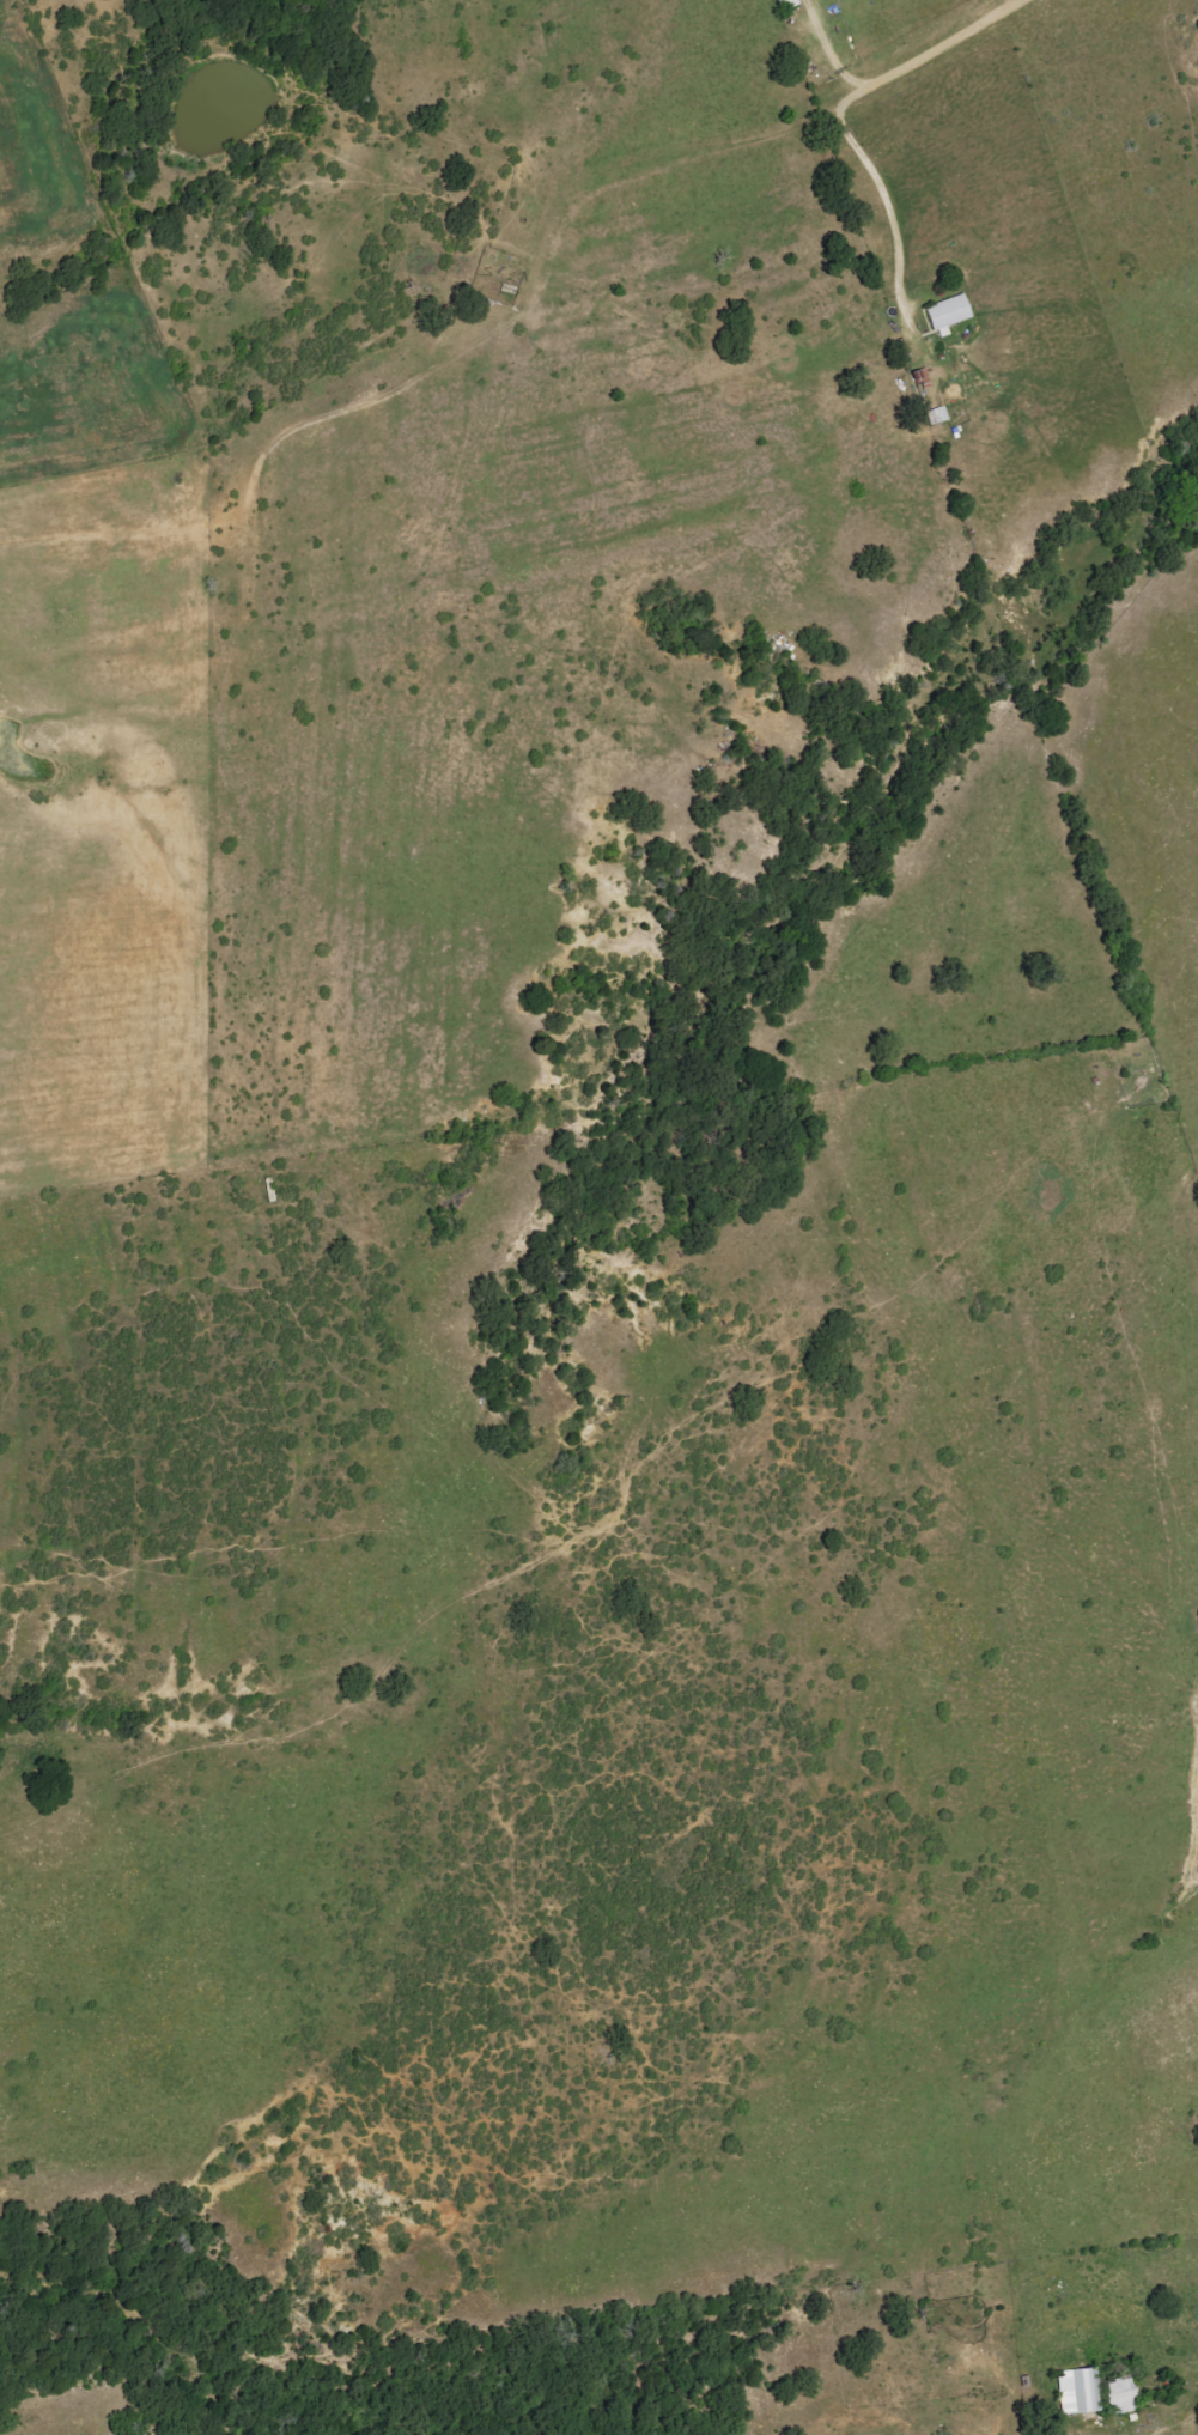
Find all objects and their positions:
road: (826, 50)
road: (931, 50)
road: (888, 206)
building: (945, 312)
building: (1077, 2390)
building: (1121, 2394)

